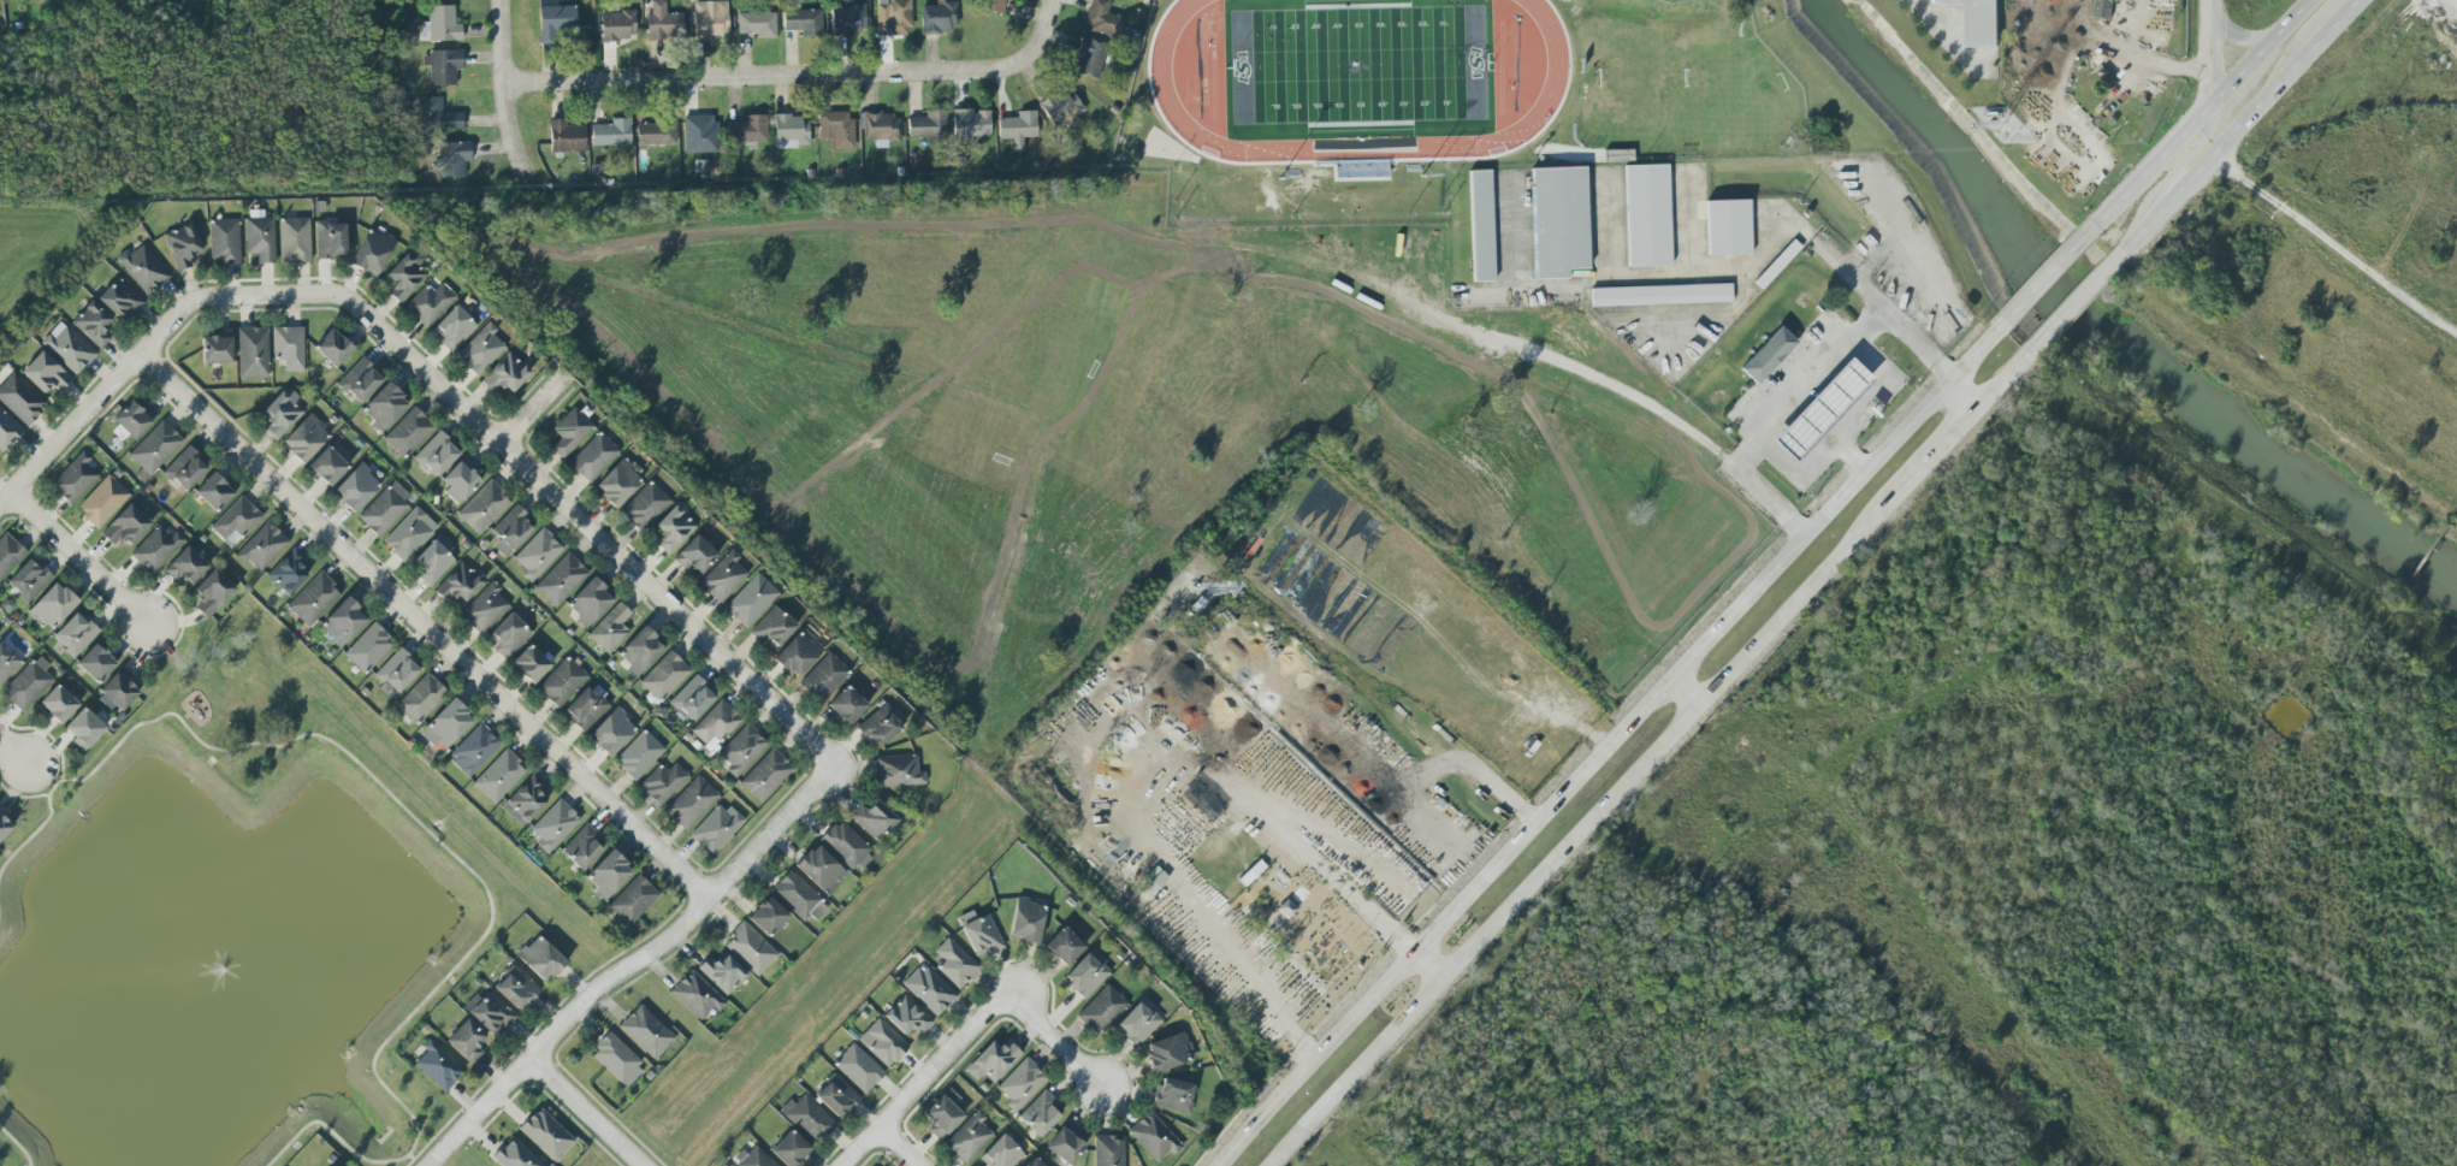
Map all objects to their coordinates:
building: (994, 5)
building: (2103, 7)
building: (940, 17)
building: (1099, 17)
building: (710, 18)
building: (893, 18)
building: (847, 19)
building: (803, 20)
building: (1977, 20)
building: (555, 22)
building: (663, 23)
building: (440, 24)
building: (757, 24)
building: (617, 25)
road: (1041, 36)
road: (2308, 42)
road: (2210, 54)
road: (2261, 54)
building: (1089, 58)
park: (1357, 65)
building: (442, 66)
road: (759, 75)
road: (502, 95)
building: (1062, 108)
building: (437, 116)
building: (970, 124)
building: (928, 126)
building: (881, 128)
building: (1017, 128)
building: (836, 129)
building: (747, 130)
road: (2243, 130)
building: (791, 131)
building: (610, 132)
building: (656, 132)
building: (699, 134)
building: (566, 137)
road: (2187, 156)
building: (452, 159)
road: (2150, 170)
building: (1646, 215)
road: (1771, 218)
road: (1688, 220)
building: (1558, 221)
building: (1480, 225)
road: (1605, 225)
building: (1727, 227)
building: (259, 238)
building: (294, 239)
building: (328, 239)
building: (224, 241)
road: (2335, 242)
building: (182, 245)
building: (371, 251)
building: (142, 268)
road: (1848, 273)
building: (404, 274)
road: (1626, 278)
road: (2044, 280)
road: (1492, 295)
building: (1660, 295)
building: (119, 298)
building: (428, 303)
road: (2070, 309)
road: (1692, 313)
building: (91, 324)
building: (452, 329)
building: (67, 348)
building: (288, 348)
building: (332, 348)
building: (215, 350)
building: (479, 350)
building: (253, 353)
building: (1766, 355)
building: (45, 373)
building: (505, 373)
road: (2002, 379)
building: (359, 380)
road: (1811, 384)
road: (1616, 387)
road: (1968, 390)
road: (100, 396)
building: (19, 398)
building: (384, 407)
road: (532, 409)
building: (1819, 409)
building: (282, 413)
building: (134, 418)
road: (1846, 428)
building: (7, 431)
building: (569, 431)
building: (408, 432)
building: (303, 438)
building: (153, 449)
building: (436, 454)
road: (1852, 454)
building: (593, 456)
road: (1930, 456)
building: (326, 466)
building: (184, 468)
building: (461, 477)
building: (75, 478)
road: (538, 481)
building: (618, 481)
building: (355, 487)
building: (213, 491)
building: (101, 501)
building: (645, 505)
building: (482, 507)
building: (384, 508)
building: (236, 519)
building: (125, 526)
building: (511, 528)
building: (673, 529)
building: (409, 534)
building: (261, 546)
building: (155, 549)
building: (8, 554)
building: (537, 554)
building: (694, 555)
road: (78, 557)
building: (432, 562)
building: (185, 566)
building: (288, 570)
building: (722, 576)
building: (28, 580)
building: (560, 580)
building: (458, 582)
building: (212, 592)
building: (313, 598)
building: (750, 599)
building: (588, 600)
building: (52, 605)
building: (484, 608)
building: (342, 621)
road: (424, 626)
building: (610, 628)
building: (772, 628)
building: (75, 634)
building: (508, 635)
building: (367, 649)
building: (639, 651)
building: (798, 651)
building: (6, 663)
building: (95, 663)
building: (529, 664)
building: (395, 671)
building: (664, 676)
building: (823, 676)
building: (561, 681)
building: (26, 685)
building: (118, 688)
road: (1682, 689)
building: (420, 698)
building: (691, 698)
building: (57, 703)
building: (845, 705)
building: (586, 708)
building: (715, 722)
building: (445, 724)
building: (878, 726)
building: (83, 728)
building: (611, 732)
road: (1602, 740)
building: (741, 748)
road: (13, 750)
building: (473, 750)
building: (639, 754)
road: (1470, 765)
building: (895, 771)
building: (498, 775)
building: (764, 775)
building: (662, 782)
building: (523, 800)
building: (691, 803)
building: (1, 810)
building: (872, 819)
building: (553, 824)
building: (4, 827)
building: (715, 828)
road: (434, 836)
road: (1576, 836)
building: (843, 845)
building: (581, 847)
road: (1296, 852)
building: (818, 868)
building: (606, 874)
building: (1153, 883)
building: (797, 896)
building: (632, 900)
building: (765, 916)
building: (1025, 921)
building: (978, 931)
road: (1219, 942)
building: (1062, 946)
building: (748, 948)
building: (539, 959)
road: (629, 964)
building: (954, 964)
building: (721, 972)
building: (1085, 973)
building: (515, 988)
building: (929, 990)
building: (695, 995)
building: (1100, 1010)
building: (487, 1012)
building: (907, 1016)
building: (1135, 1024)
building: (646, 1031)
road: (1053, 1040)
building: (466, 1041)
building: (882, 1042)
building: (1168, 1052)
building: (616, 1059)
building: (993, 1061)
building: (437, 1065)
building: (857, 1069)
road: (923, 1079)
building: (1020, 1084)
building: (1172, 1095)
building: (835, 1096)
road: (586, 1112)
building: (1038, 1113)
building: (942, 1114)
building: (806, 1118)
building: (545, 1135)
building: (1153, 1137)
building: (967, 1138)
building: (1065, 1143)
road: (17, 1144)
road: (899, 1147)
building: (789, 1149)
building: (1107, 1150)
building: (1000, 1153)
building: (514, 1155)
building: (752, 1158)
building: (1032, 1162)

